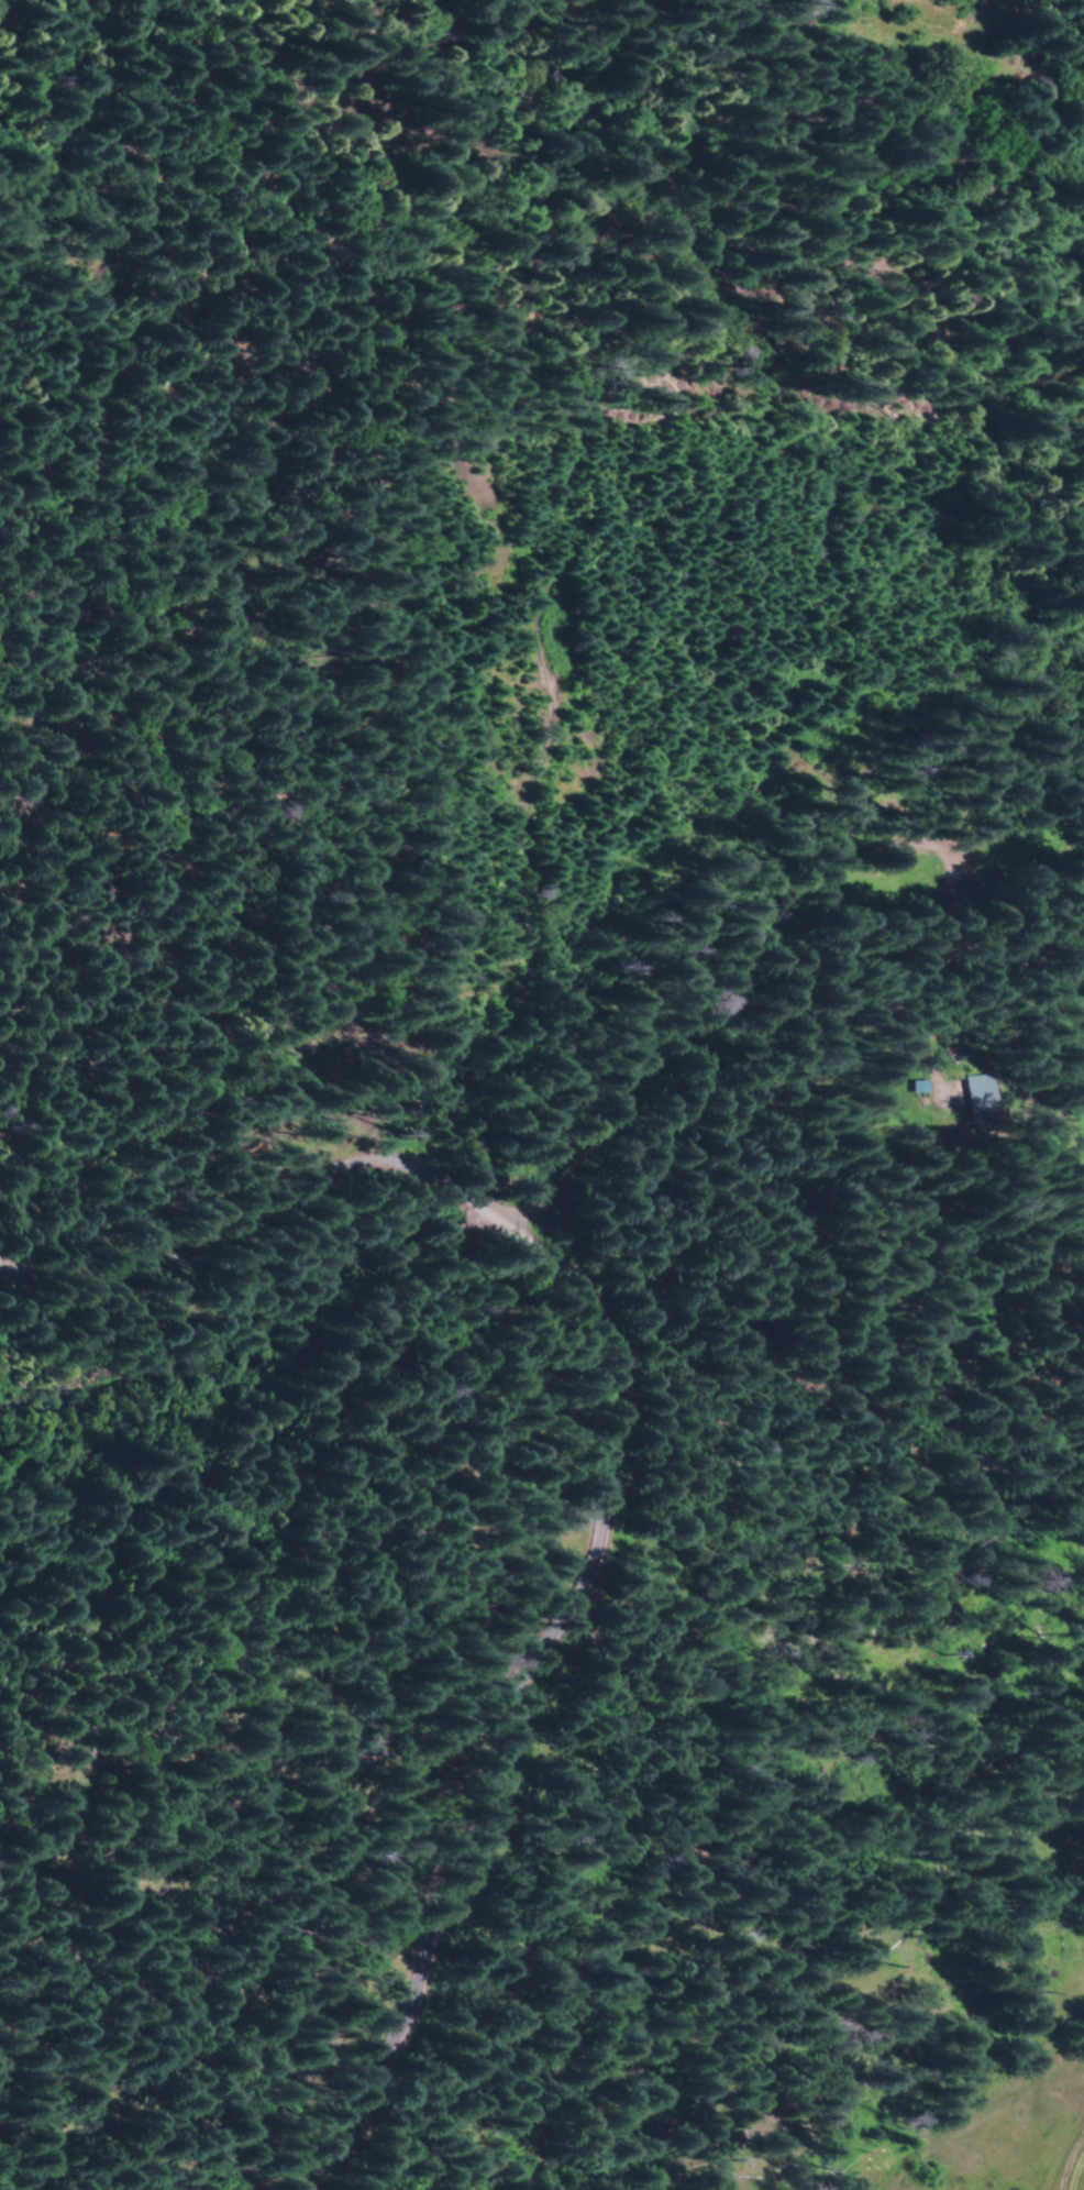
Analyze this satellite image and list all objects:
road: (811, 868)
road: (255, 1209)
road: (257, 1335)
road: (507, 1696)
road: (958, 2101)
road: (1061, 2148)

